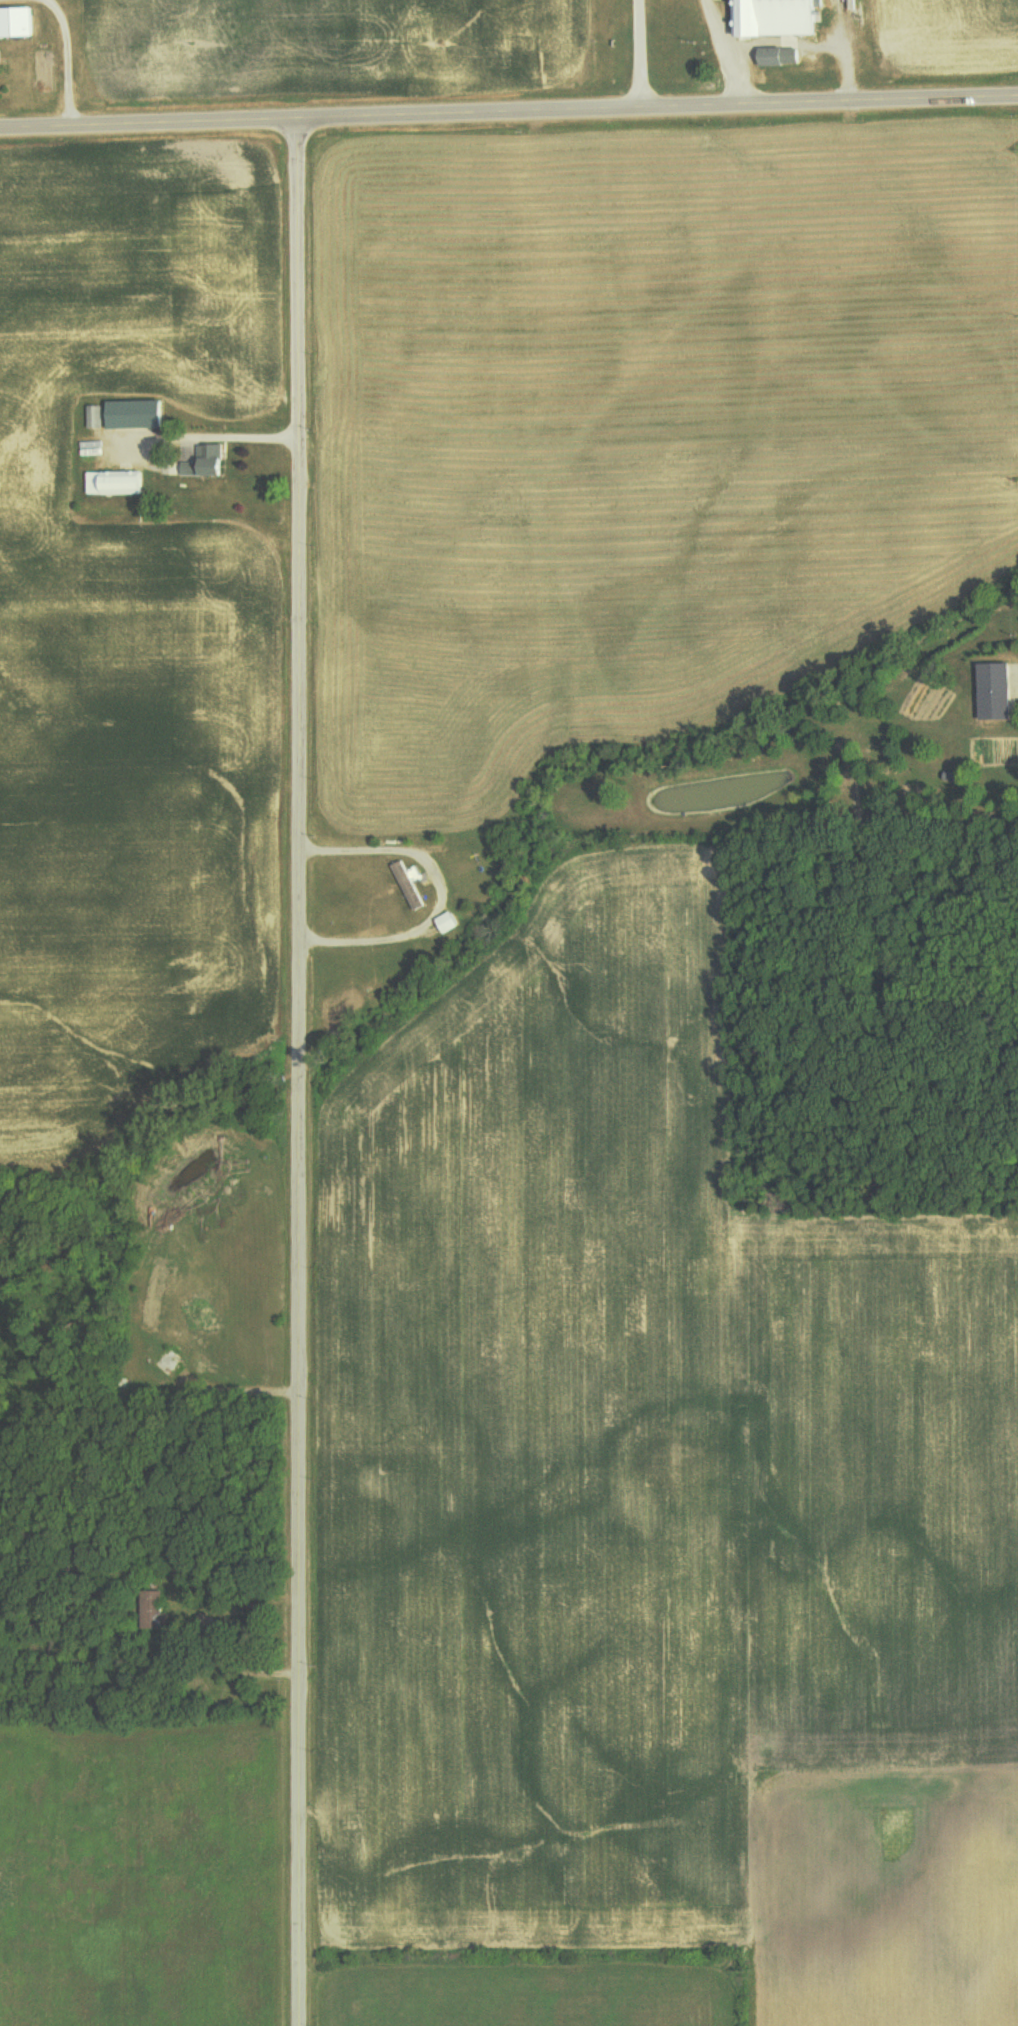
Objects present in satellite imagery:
building: (776, 18)
building: (17, 23)
crop: (948, 37)
crop: (326, 47)
road: (813, 53)
road: (729, 55)
road: (647, 56)
building: (781, 57)
road: (657, 112)
road: (148, 127)
building: (136, 415)
building: (93, 417)
crop: (641, 434)
building: (206, 462)
building: (116, 483)
crop: (131, 644)
building: (996, 691)
building: (409, 884)
building: (448, 922)
road: (290, 1074)
crop: (528, 1436)
crop: (887, 1619)
road: (206, 1642)
crop: (522, 1997)

